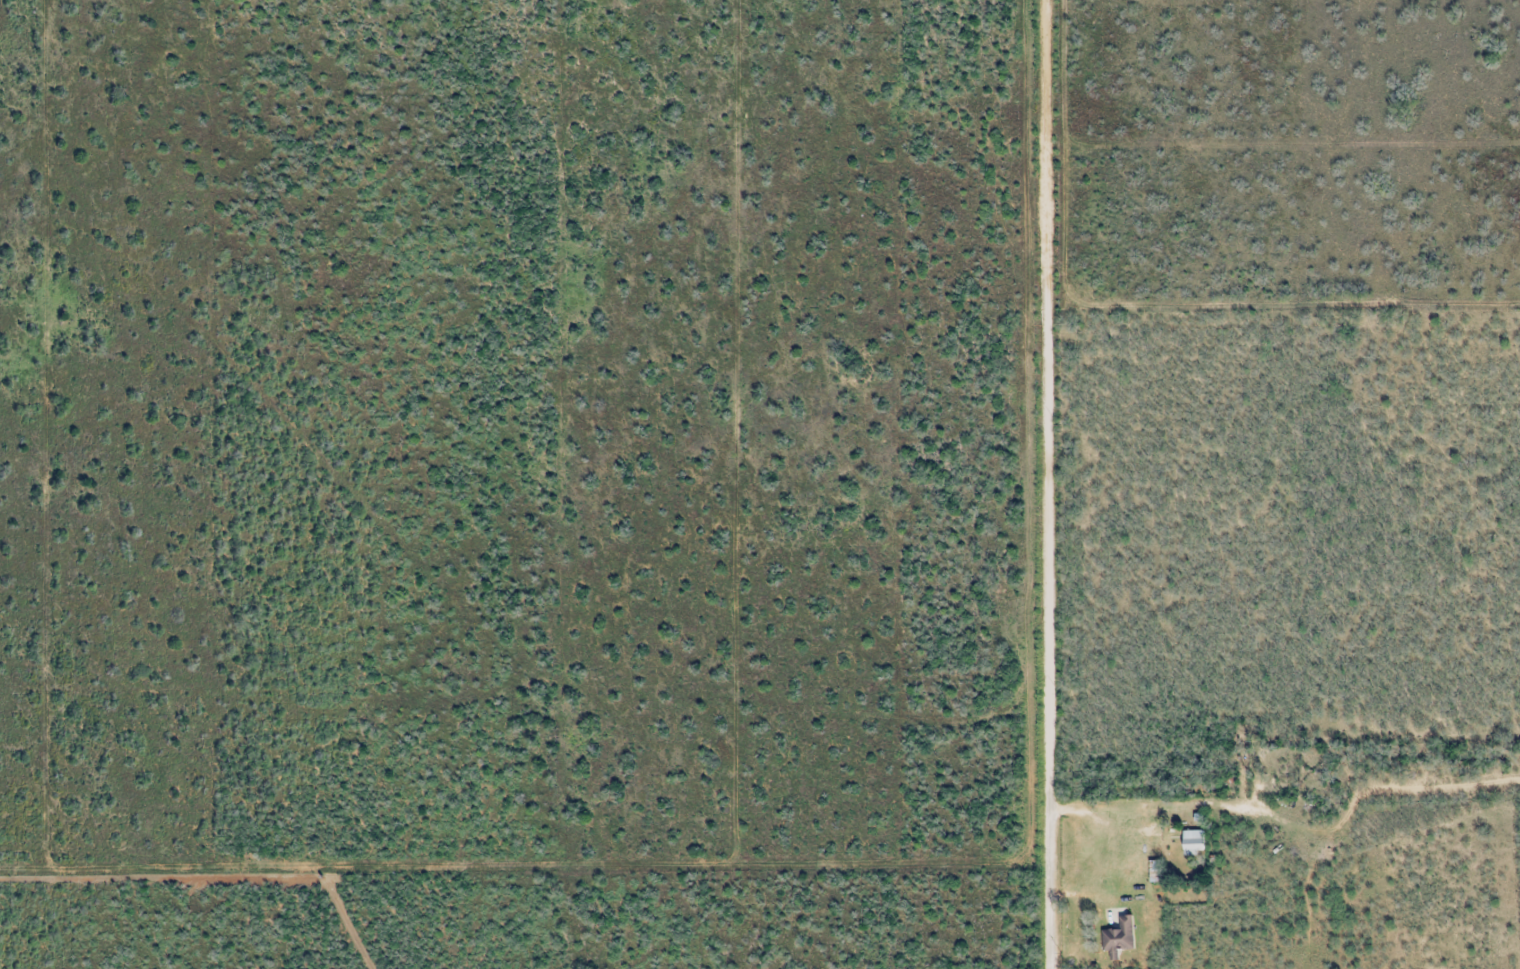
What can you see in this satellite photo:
road: (1049, 484)
building: (1196, 842)
building: (1080, 924)

